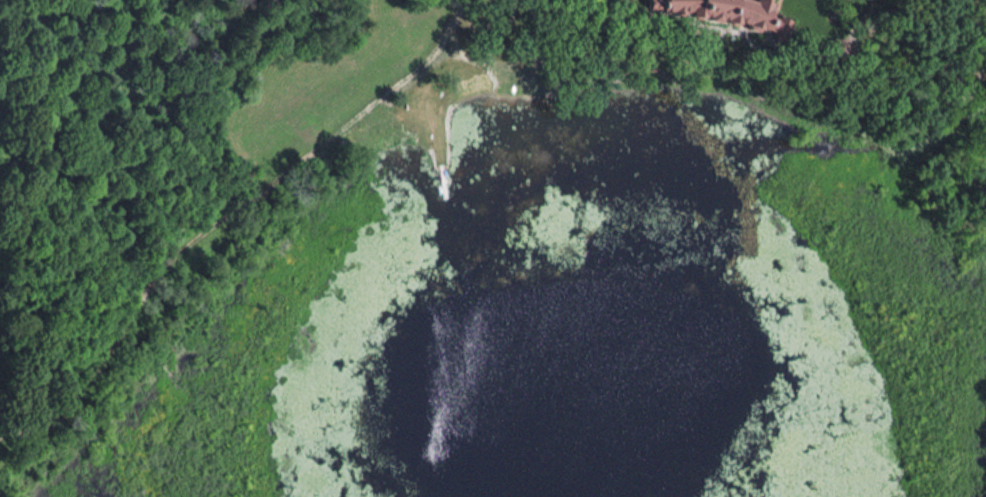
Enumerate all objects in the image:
building: (716, 10)

